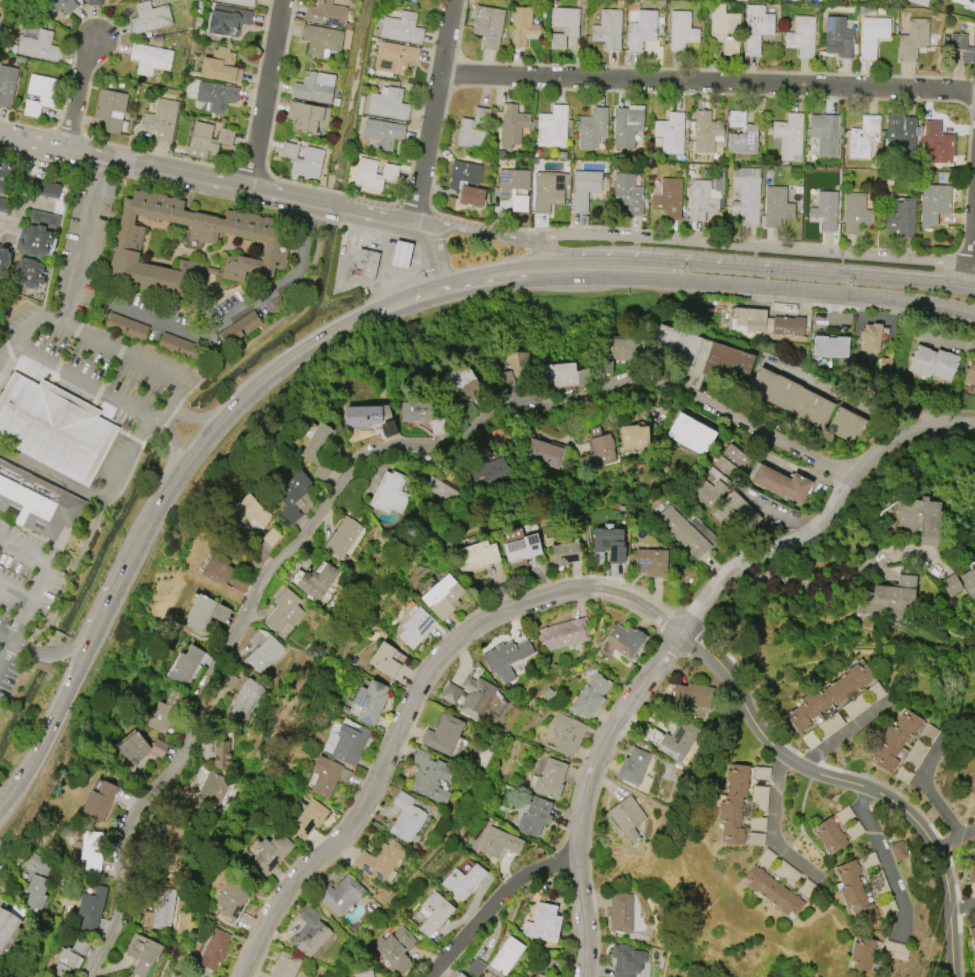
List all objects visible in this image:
building: (961, 1)
building: (95, 2)
building: (242, 2)
building: (923, 2)
building: (973, 5)
building: (59, 7)
building: (326, 13)
building: (150, 17)
building: (228, 20)
building: (489, 25)
building: (564, 26)
building: (524, 27)
building: (402, 28)
building: (724, 28)
building: (757, 28)
building: (609, 30)
building: (643, 30)
building: (682, 31)
building: (873, 35)
building: (801, 36)
building: (839, 36)
building: (322, 40)
building: (913, 40)
building: (36, 43)
building: (963, 47)
building: (395, 57)
building: (151, 58)
building: (222, 66)
road: (711, 81)
building: (7, 84)
building: (315, 87)
road: (266, 92)
building: (40, 94)
road: (78, 94)
building: (216, 96)
building: (389, 103)
building: (111, 108)
road: (438, 110)
building: (309, 117)
building: (162, 119)
building: (513, 125)
building: (553, 127)
building: (593, 128)
building: (626, 128)
building: (474, 130)
building: (707, 132)
building: (383, 133)
building: (671, 133)
building: (742, 134)
building: (826, 135)
building: (903, 135)
building: (864, 136)
building: (789, 137)
building: (208, 140)
building: (937, 145)
building: (303, 160)
building: (374, 174)
building: (4, 177)
road: (210, 177)
building: (457, 185)
building: (515, 187)
road: (21, 188)
building: (584, 189)
building: (51, 190)
building: (550, 190)
building: (629, 192)
building: (747, 194)
building: (667, 199)
building: (707, 199)
road: (42, 201)
building: (935, 203)
building: (4, 205)
building: (778, 206)
building: (825, 211)
building: (857, 213)
building: (902, 219)
road: (471, 232)
building: (38, 233)
road: (973, 237)
building: (128, 243)
road: (746, 246)
road: (392, 250)
road: (549, 250)
road: (433, 254)
building: (401, 255)
building: (3, 261)
building: (367, 263)
road: (507, 267)
road: (773, 269)
building: (29, 273)
road: (415, 273)
road: (970, 276)
road: (343, 280)
road: (708, 282)
road: (972, 288)
road: (242, 308)
road: (361, 319)
building: (770, 324)
building: (126, 326)
building: (871, 340)
road: (3, 346)
building: (178, 346)
building: (675, 346)
building: (829, 346)
building: (626, 349)
road: (3, 350)
building: (726, 360)
building: (933, 362)
building: (513, 369)
building: (970, 373)
building: (563, 375)
road: (175, 381)
building: (448, 383)
road: (257, 384)
building: (791, 397)
road: (853, 404)
building: (417, 410)
road: (199, 415)
building: (362, 416)
building: (846, 424)
building: (52, 428)
building: (691, 434)
building: (634, 438)
building: (318, 442)
road: (201, 444)
road: (171, 447)
building: (544, 453)
building: (599, 453)
building: (494, 473)
building: (781, 483)
road: (339, 489)
building: (441, 489)
building: (710, 492)
building: (390, 493)
building: (294, 496)
road: (92, 498)
building: (36, 501)
building: (732, 511)
building: (251, 512)
building: (920, 517)
building: (684, 532)
building: (344, 537)
building: (608, 543)
building: (523, 547)
building: (565, 554)
road: (132, 557)
building: (480, 558)
building: (651, 562)
building: (218, 568)
road: (841, 577)
road: (36, 582)
building: (239, 584)
building: (318, 584)
building: (959, 587)
road: (13, 596)
building: (443, 596)
building: (894, 597)
parking lot: (24, 598)
building: (285, 611)
building: (200, 613)
building: (415, 627)
road: (682, 630)
building: (564, 633)
road: (4, 641)
building: (624, 641)
building: (264, 650)
road: (4, 652)
road: (51, 655)
building: (385, 659)
building: (507, 659)
building: (185, 666)
building: (450, 693)
building: (693, 695)
building: (476, 696)
building: (591, 696)
building: (829, 696)
building: (246, 699)
building: (370, 701)
road: (413, 705)
building: (166, 711)
road: (50, 724)
building: (928, 731)
road: (846, 732)
building: (443, 734)
building: (568, 734)
building: (896, 740)
building: (679, 741)
building: (350, 744)
building: (143, 748)
building: (221, 754)
building: (634, 766)
road: (818, 773)
building: (328, 776)
building: (430, 777)
building: (550, 779)
road: (925, 784)
building: (212, 791)
building: (99, 801)
building: (734, 803)
building: (535, 816)
building: (407, 817)
building: (629, 817)
building: (309, 819)
road: (773, 828)
building: (830, 835)
road: (954, 839)
building: (499, 842)
building: (169, 847)
building: (93, 850)
building: (898, 851)
building: (272, 852)
building: (381, 860)
road: (886, 860)
building: (972, 878)
building: (38, 880)
building: (463, 881)
building: (774, 892)
building: (855, 893)
building: (341, 894)
building: (233, 896)
road: (494, 903)
road: (963, 905)
building: (164, 906)
building: (92, 908)
building: (435, 913)
building: (621, 913)
building: (544, 924)
building: (7, 929)
building: (311, 932)
building: (972, 935)
road: (952, 941)
building: (215, 949)
building: (397, 949)
building: (897, 951)
building: (142, 953)
building: (863, 953)
building: (507, 955)
building: (70, 957)
building: (626, 960)
building: (286, 965)
building: (364, 974)
building: (459, 975)
building: (536, 976)
building: (541, 976)

